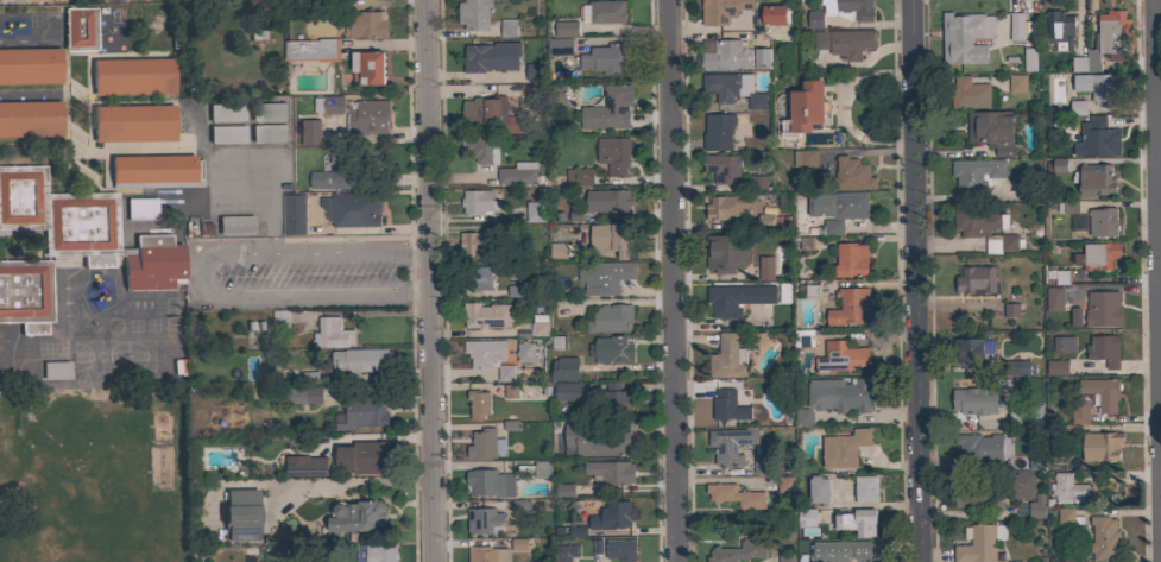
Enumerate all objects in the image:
building: (848, 10)
building: (605, 11)
building: (720, 11)
building: (474, 14)
building: (775, 14)
building: (814, 19)
building: (366, 24)
building: (1016, 26)
building: (80, 27)
building: (509, 27)
building: (566, 29)
building: (1060, 30)
building: (259, 33)
building: (965, 37)
building: (1105, 42)
building: (846, 43)
building: (560, 46)
building: (311, 50)
building: (491, 56)
building: (726, 56)
building: (604, 58)
building: (761, 58)
building: (1029, 59)
building: (30, 65)
building: (368, 67)
building: (534, 71)
building: (133, 76)
road: (1160, 76)
building: (1017, 83)
building: (1097, 87)
building: (733, 88)
building: (968, 94)
building: (328, 103)
building: (1078, 108)
building: (608, 109)
building: (806, 109)
building: (267, 112)
building: (226, 113)
building: (491, 115)
building: (368, 116)
building: (30, 119)
building: (133, 122)
building: (992, 131)
building: (310, 132)
building: (718, 132)
building: (269, 133)
building: (226, 134)
building: (1103, 137)
building: (481, 149)
building: (613, 154)
building: (365, 158)
building: (805, 158)
building: (1056, 165)
building: (723, 166)
building: (156, 171)
building: (332, 173)
building: (518, 173)
building: (976, 173)
building: (852, 175)
building: (579, 176)
building: (1093, 178)
building: (757, 183)
building: (477, 201)
building: (607, 201)
building: (838, 204)
building: (726, 207)
building: (1067, 207)
building: (141, 209)
building: (352, 209)
building: (535, 211)
building: (294, 214)
building: (765, 221)
building: (978, 222)
building: (1079, 222)
building: (1103, 222)
building: (235, 225)
building: (831, 227)
building: (84, 228)
building: (612, 238)
building: (1010, 242)
building: (472, 244)
building: (807, 244)
building: (992, 246)
building: (557, 252)
building: (727, 252)
building: (1097, 255)
building: (851, 259)
building: (766, 269)
parking lot: (301, 270)
road: (196, 274)
building: (1059, 276)
building: (605, 277)
building: (477, 278)
building: (976, 279)
road: (433, 280)
road: (679, 280)
road: (919, 280)
building: (509, 291)
building: (25, 293)
building: (1054, 298)
building: (734, 299)
building: (850, 307)
building: (1011, 309)
building: (1103, 309)
building: (486, 315)
building: (1075, 317)
building: (610, 318)
building: (279, 321)
building: (540, 328)
building: (332, 334)
building: (803, 339)
building: (559, 342)
building: (1064, 345)
building: (972, 348)
building: (611, 349)
building: (1104, 349)
building: (526, 352)
building: (488, 356)
building: (727, 358)
building: (840, 358)
building: (361, 360)
building: (177, 365)
building: (1016, 367)
building: (1058, 367)
building: (564, 368)
building: (55, 370)
building: (310, 377)
building: (511, 391)
building: (568, 391)
building: (1102, 393)
building: (305, 394)
building: (843, 396)
building: (617, 399)
building: (974, 402)
building: (479, 404)
building: (725, 405)
building: (364, 411)
building: (1079, 412)
building: (1026, 413)
building: (803, 417)
road: (894, 418)
building: (506, 427)
building: (598, 438)
building: (340, 441)
building: (481, 443)
building: (728, 446)
building: (1100, 446)
building: (844, 448)
building: (984, 448)
building: (368, 456)
building: (1035, 463)
building: (762, 466)
building: (302, 467)
building: (542, 469)
building: (611, 472)
building: (490, 484)
road: (356, 485)
building: (785, 485)
building: (1020, 486)
building: (1067, 487)
building: (564, 490)
building: (819, 490)
building: (866, 490)
building: (977, 494)
building: (736, 495)
building: (1102, 497)
building: (1037, 506)
building: (240, 514)
building: (613, 516)
building: (356, 517)
building: (807, 517)
building: (1067, 519)
building: (484, 522)
building: (859, 522)
building: (578, 531)
building: (1104, 539)
building: (980, 544)
building: (519, 545)
building: (620, 550)
building: (738, 551)
building: (839, 551)
building: (377, 552)
building: (562, 552)
building: (486, 554)
building: (785, 554)

